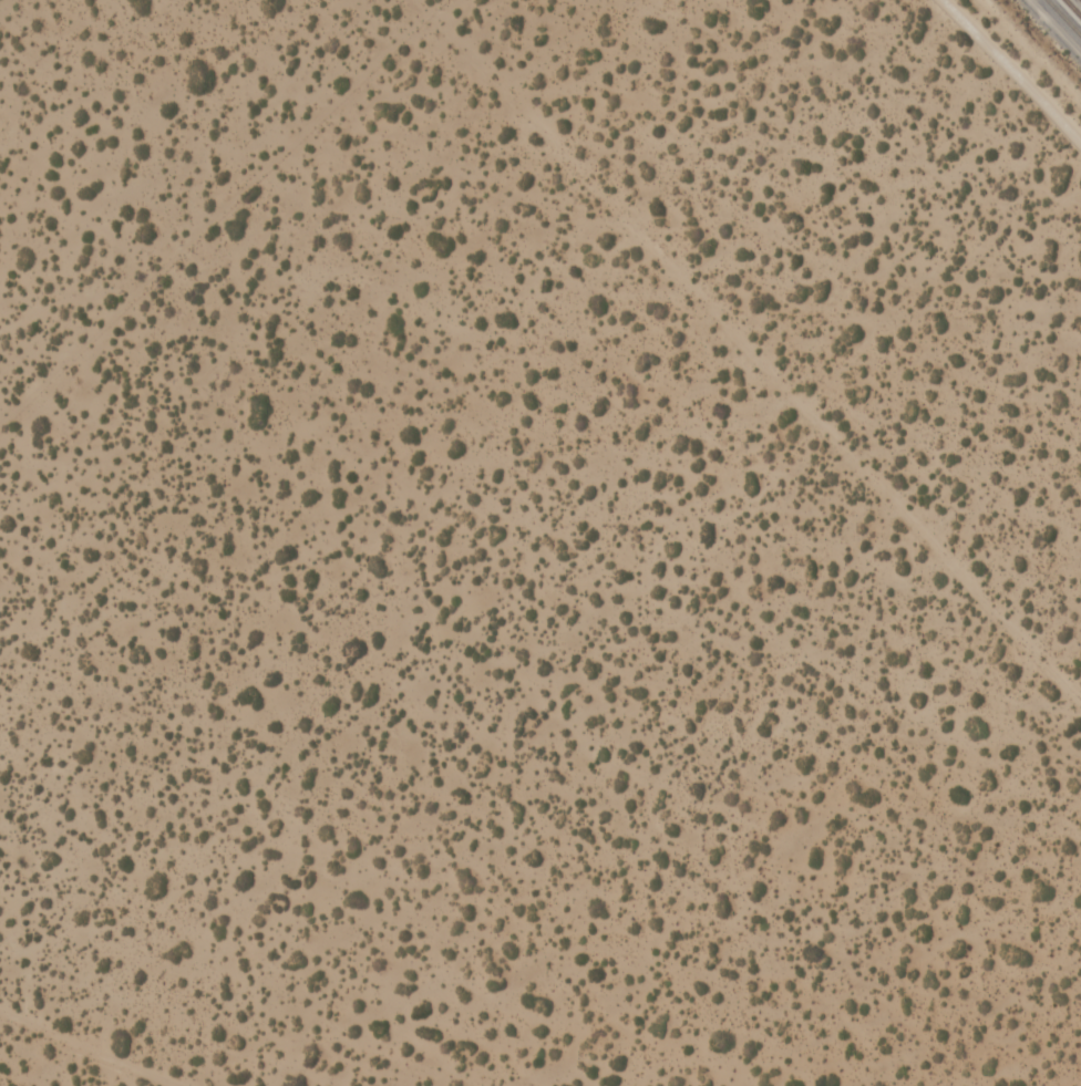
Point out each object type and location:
railway: (1071, 10)
railway: (1062, 19)
road: (1007, 77)
road: (110, 1028)

